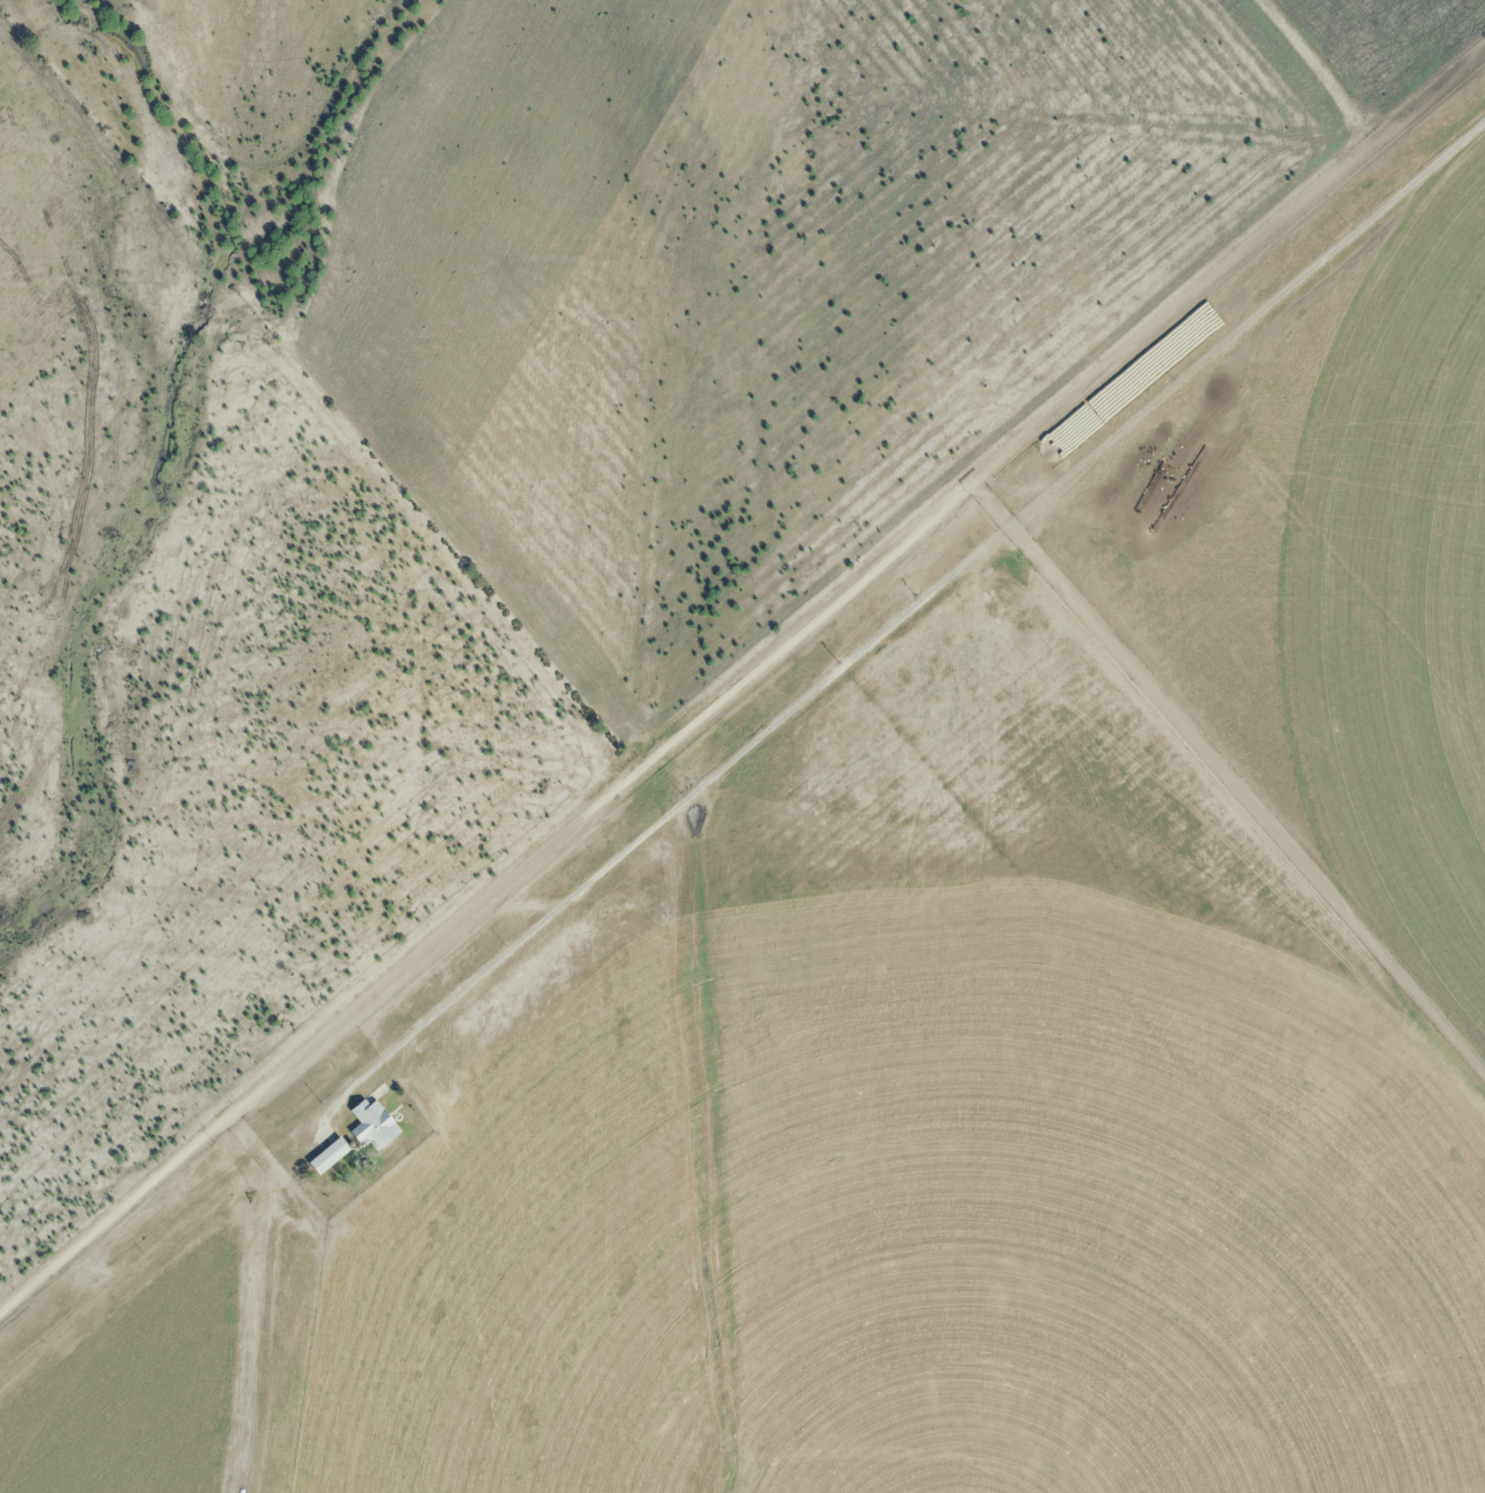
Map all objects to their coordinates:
building: (372, 1128)
building: (327, 1158)

